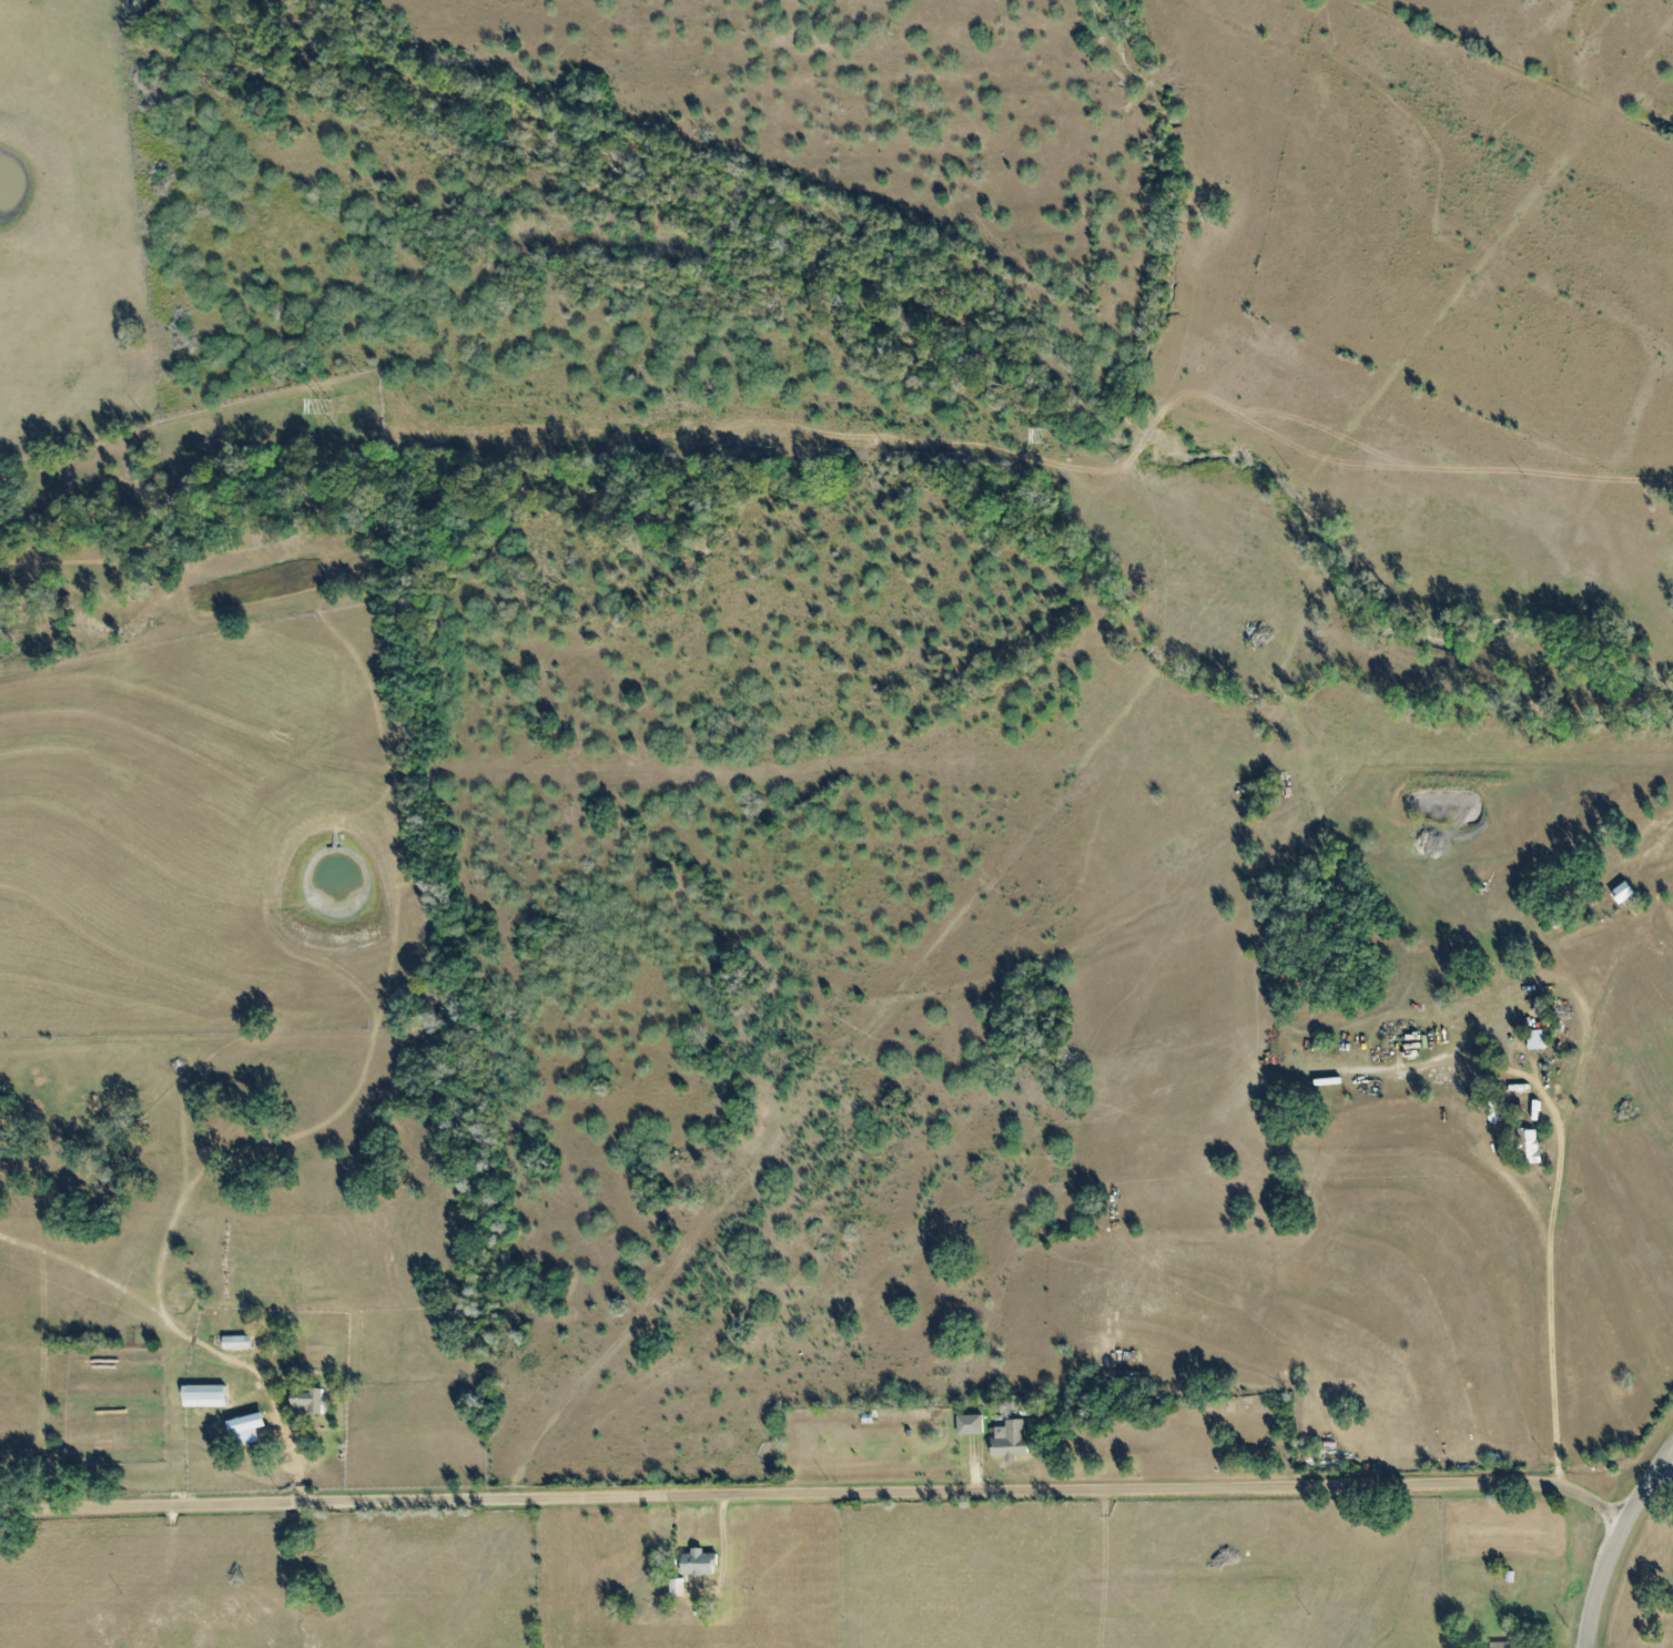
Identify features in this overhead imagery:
power tower: (331, 408)
power tower: (1028, 439)
building: (1628, 892)
building: (1541, 1039)
building: (1527, 1147)
road: (1550, 1252)
building: (241, 1342)
building: (209, 1396)
building: (312, 1401)
building: (866, 1418)
building: (973, 1425)
building: (253, 1428)
park: (1184, 1436)
building: (1012, 1443)
building: (977, 1467)
road: (1664, 1467)
road: (817, 1493)
road: (1613, 1539)
road: (721, 1555)
building: (697, 1561)
building: (1508, 1576)
building: (675, 1587)
building: (1499, 1645)

